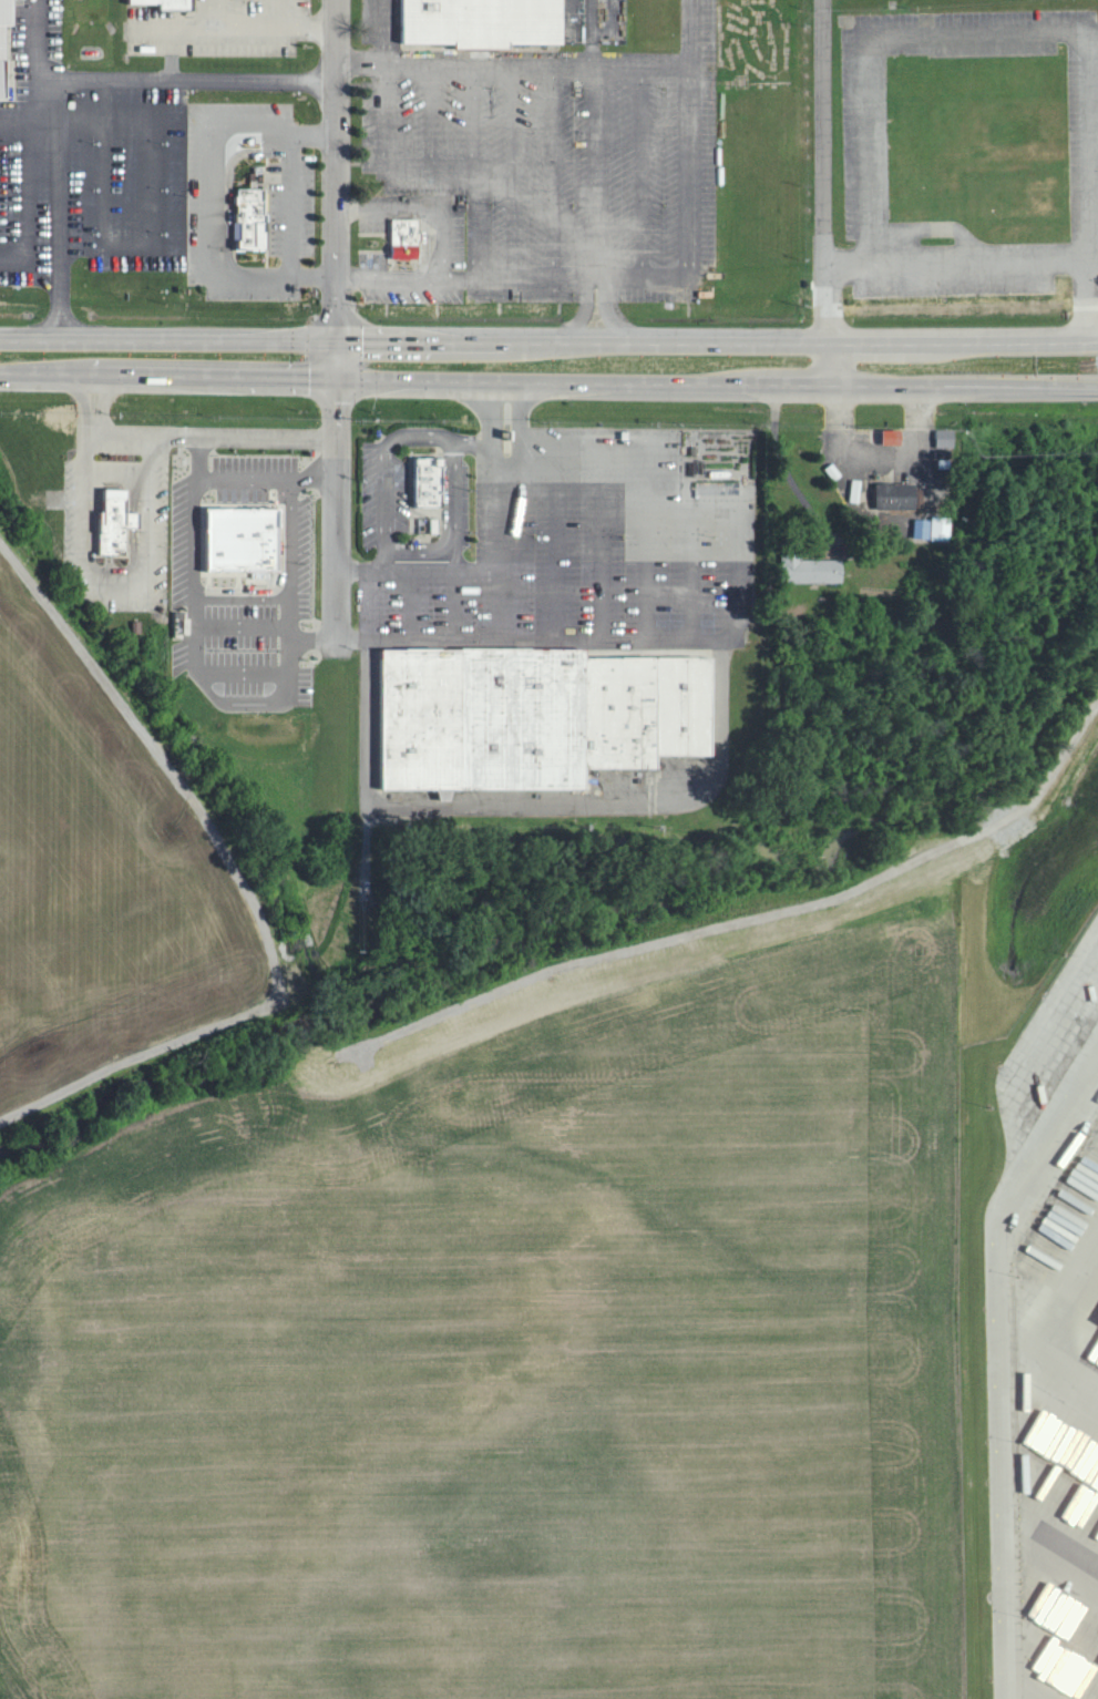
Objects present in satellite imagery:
building: (172, 3)
building: (485, 21)
road: (885, 34)
building: (7, 40)
road: (64, 81)
building: (259, 175)
road: (337, 191)
road: (825, 194)
building: (253, 217)
building: (408, 236)
road: (962, 258)
road: (1088, 288)
traffic signals: (336, 346)
road: (548, 346)
traffic signals: (336, 382)
road: (548, 387)
road: (209, 434)
building: (894, 434)
building: (947, 437)
building: (692, 454)
building: (432, 481)
building: (899, 494)
building: (117, 520)
building: (925, 526)
building: (944, 526)
building: (245, 538)
building: (814, 569)
building: (538, 714)

